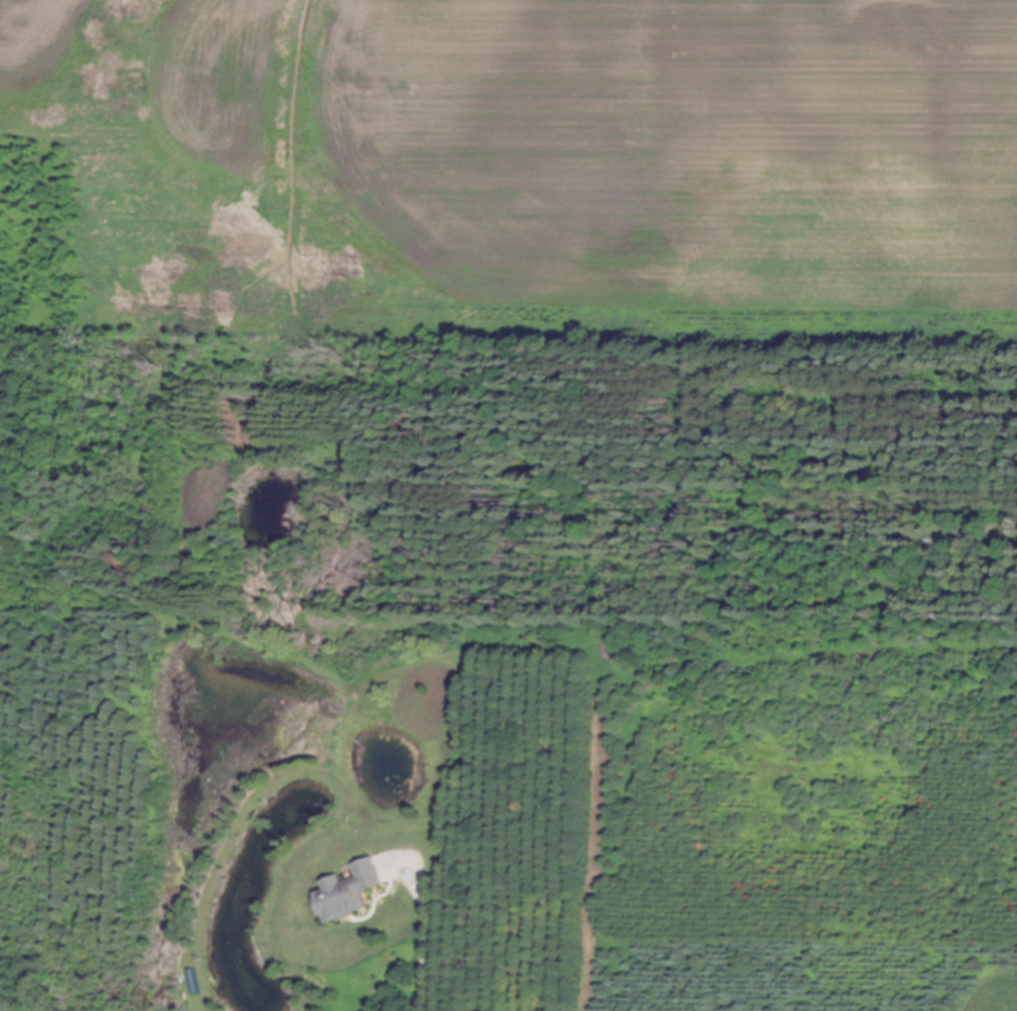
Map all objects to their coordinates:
building: (350, 892)
road: (424, 936)

